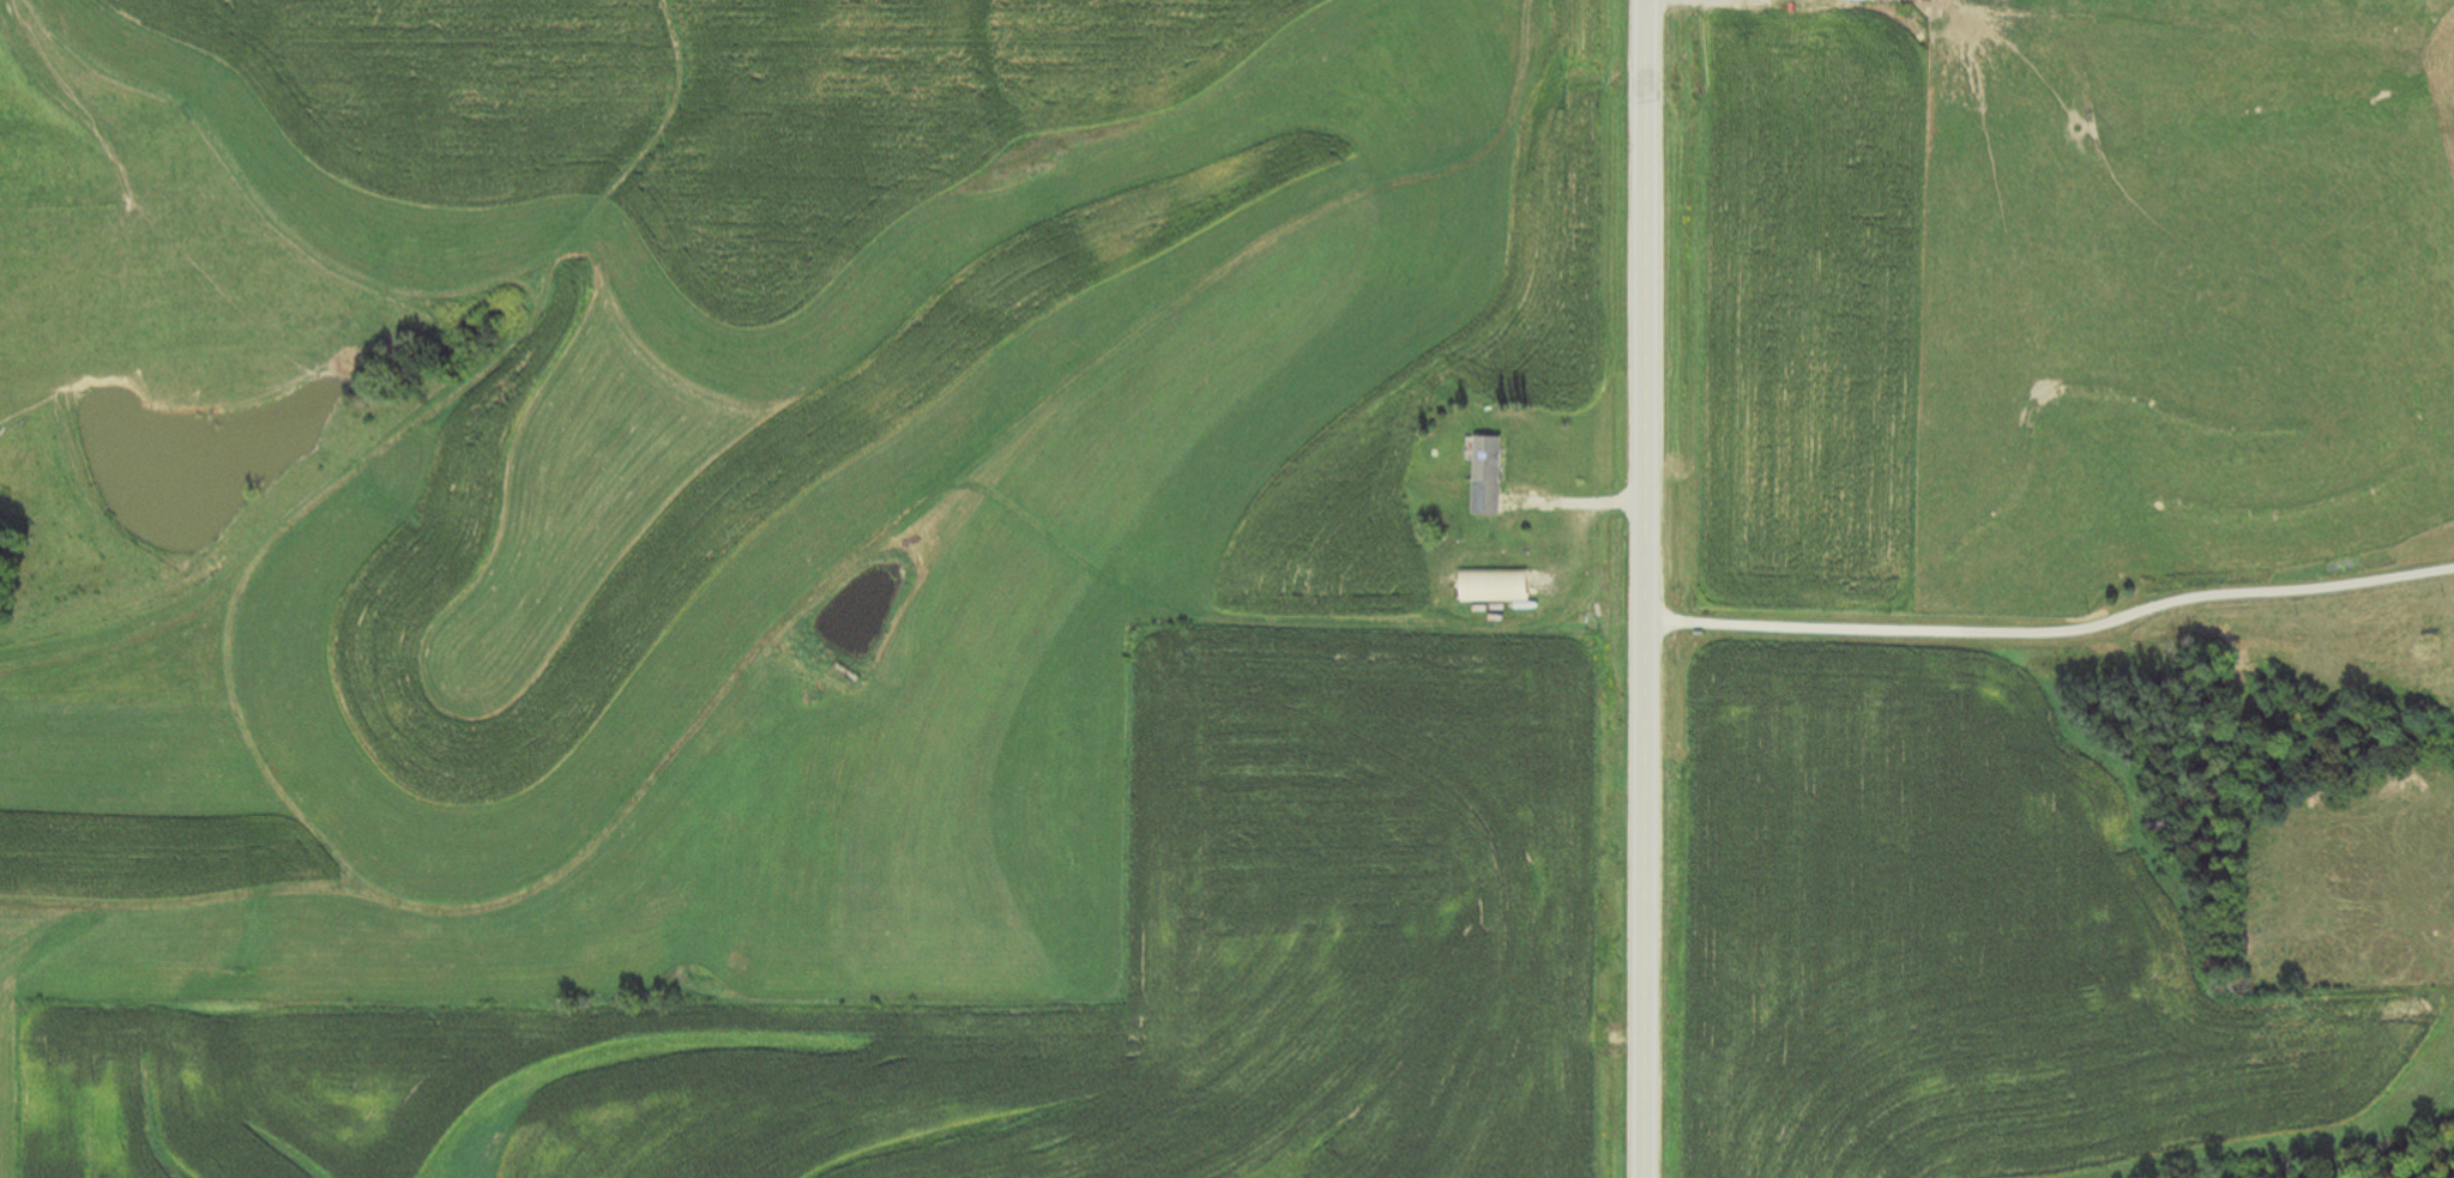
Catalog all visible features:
building: (1874, 2)
building: (1483, 478)
road: (1579, 503)
road: (1646, 588)
road: (2054, 635)

